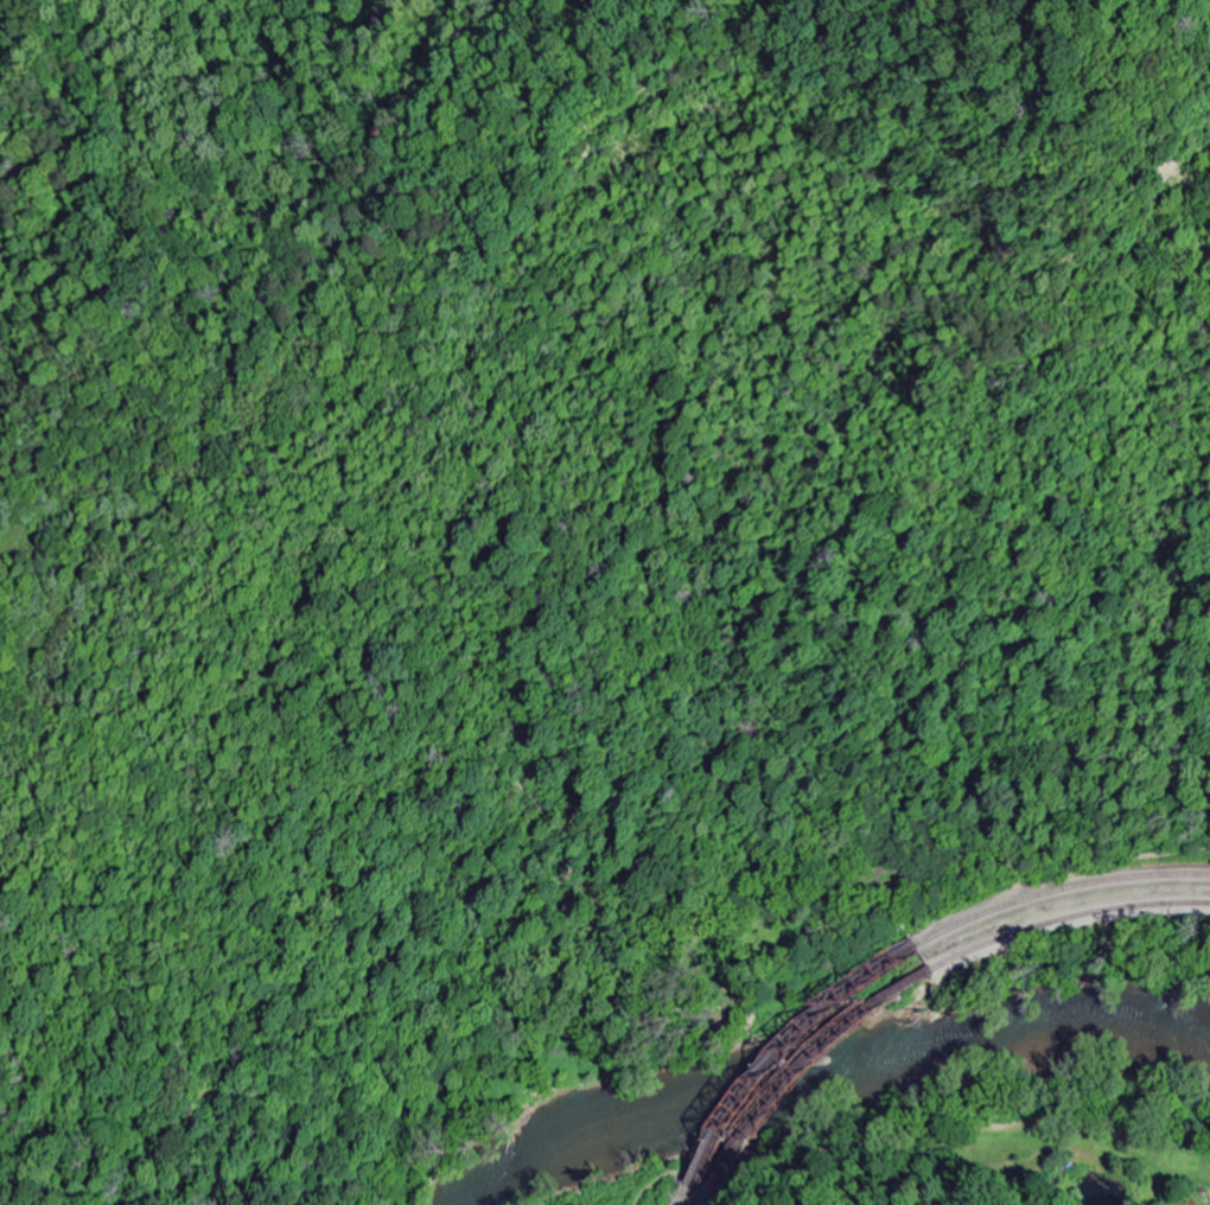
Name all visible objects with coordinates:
road: (1068, 865)
railway: (1062, 905)
railway: (1066, 917)
railway: (792, 1058)
railway: (807, 1063)
river: (829, 1075)
railway: (707, 1196)
railway: (688, 1197)

